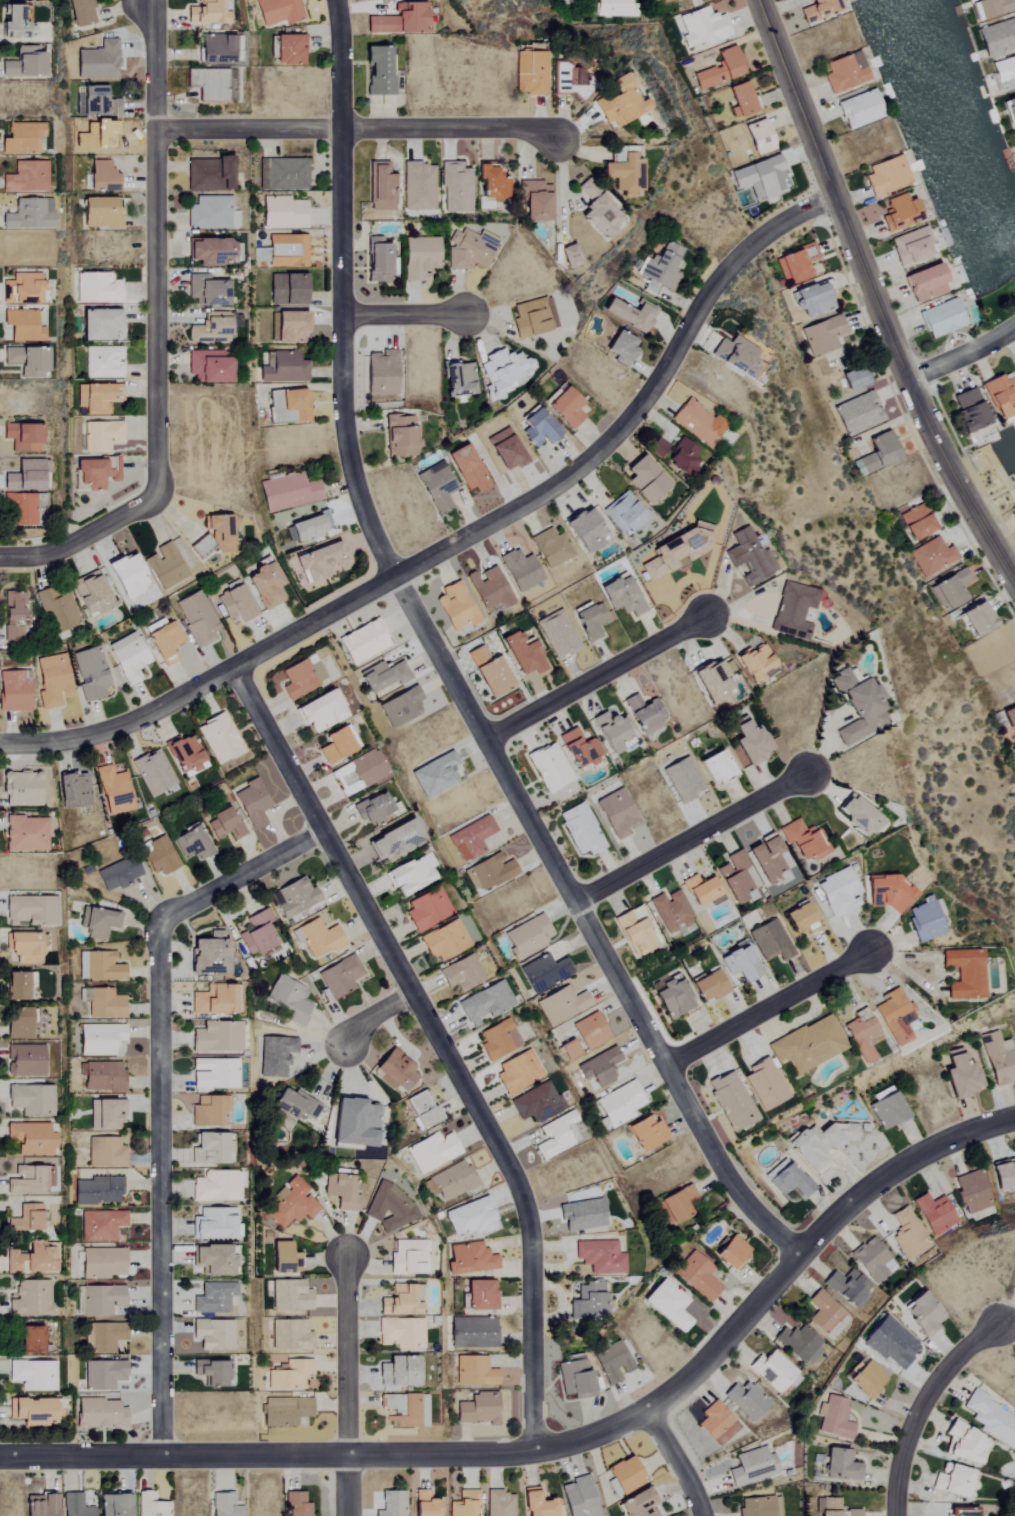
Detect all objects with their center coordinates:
building: (651, 0)
building: (570, 1)
building: (665, 1)
building: (989, 8)
building: (615, 9)
building: (818, 10)
building: (81, 12)
building: (277, 12)
building: (205, 13)
building: (397, 20)
building: (12, 22)
building: (702, 27)
building: (997, 37)
building: (214, 49)
building: (286, 50)
building: (97, 61)
building: (23, 63)
road: (344, 64)
building: (719, 69)
building: (379, 70)
building: (530, 72)
building: (844, 72)
building: (1004, 73)
building: (569, 81)
building: (207, 84)
building: (740, 100)
building: (618, 102)
building: (97, 103)
building: (1010, 109)
building: (859, 110)
road: (362, 128)
building: (1014, 134)
building: (757, 137)
building: (21, 138)
building: (207, 174)
building: (262, 174)
building: (287, 174)
building: (624, 175)
building: (886, 176)
building: (24, 177)
building: (101, 177)
building: (760, 179)
building: (492, 183)
building: (417, 186)
building: (380, 187)
building: (456, 188)
building: (535, 201)
building: (597, 211)
building: (99, 213)
building: (210, 213)
building: (282, 213)
building: (898, 213)
building: (28, 215)
building: (910, 246)
building: (287, 251)
building: (467, 251)
building: (210, 252)
building: (569, 256)
building: (418, 258)
building: (377, 261)
building: (796, 263)
building: (660, 269)
building: (925, 283)
building: (97, 288)
building: (20, 289)
building: (286, 290)
building: (205, 291)
road: (875, 298)
building: (813, 301)
road: (407, 314)
building: (629, 315)
building: (532, 318)
building: (941, 318)
building: (98, 324)
building: (22, 325)
building: (270, 327)
building: (288, 327)
building: (208, 329)
road: (157, 333)
building: (823, 335)
building: (620, 349)
road: (962, 355)
building: (738, 357)
building: (24, 362)
building: (103, 362)
building: (207, 367)
building: (283, 367)
building: (499, 372)
building: (381, 373)
building: (458, 380)
building: (853, 380)
building: (1000, 396)
building: (94, 398)
building: (294, 404)
building: (565, 408)
building: (969, 411)
building: (857, 414)
building: (698, 423)
building: (537, 428)
building: (100, 436)
building: (399, 436)
building: (21, 438)
building: (657, 448)
building: (876, 454)
building: (683, 458)
building: (466, 469)
building: (97, 473)
building: (24, 476)
building: (644, 480)
building: (436, 487)
building: (289, 492)
building: (18, 509)
building: (624, 513)
building: (1013, 518)
building: (916, 522)
building: (310, 527)
building: (584, 531)
building: (219, 533)
road: (464, 538)
building: (551, 548)
building: (673, 553)
building: (749, 557)
building: (931, 557)
building: (321, 562)
building: (165, 566)
building: (520, 570)
building: (124, 576)
building: (263, 585)
building: (489, 589)
building: (951, 590)
building: (90, 595)
building: (235, 604)
building: (455, 608)
building: (56, 609)
building: (793, 611)
building: (11, 618)
building: (197, 618)
building: (977, 619)
building: (590, 621)
building: (558, 635)
building: (163, 641)
building: (363, 642)
building: (519, 654)
building: (128, 658)
building: (754, 663)
building: (488, 672)
building: (90, 674)
building: (384, 677)
road: (599, 677)
building: (51, 680)
building: (712, 683)
building: (14, 691)
building: (858, 707)
building: (400, 708)
building: (317, 712)
building: (644, 714)
building: (1009, 718)
road: (479, 720)
building: (609, 730)
building: (217, 738)
building: (333, 744)
building: (751, 744)
building: (578, 748)
building: (1013, 749)
building: (184, 753)
building: (715, 766)
building: (365, 767)
building: (548, 767)
building: (152, 772)
building: (434, 774)
building: (682, 779)
building: (26, 787)
building: (74, 790)
building: (113, 790)
building: (252, 803)
building: (369, 809)
building: (616, 814)
building: (857, 814)
building: (223, 824)
building: (580, 829)
building: (24, 833)
road: (695, 837)
building: (471, 838)
building: (800, 838)
building: (391, 839)
building: (192, 843)
building: (158, 855)
building: (769, 860)
building: (489, 872)
building: (118, 873)
building: (406, 874)
building: (736, 876)
building: (700, 889)
building: (887, 892)
building: (838, 893)
building: (294, 896)
building: (30, 910)
building: (426, 910)
building: (670, 911)
building: (800, 919)
building: (925, 919)
building: (98, 922)
building: (634, 931)
building: (256, 933)
building: (319, 937)
building: (526, 937)
building: (770, 940)
building: (442, 941)
building: (23, 947)
building: (207, 954)
building: (739, 963)
building: (98, 966)
building: (543, 972)
building: (459, 973)
building: (964, 973)
building: (339, 976)
building: (17, 984)
building: (709, 986)
building: (671, 997)
building: (213, 999)
building: (289, 999)
building: (102, 1003)
building: (483, 1003)
building: (560, 1005)
road: (775, 1007)
road: (374, 1015)
building: (895, 1017)
building: (16, 1023)
building: (589, 1031)
building: (216, 1037)
building: (862, 1037)
building: (99, 1039)
building: (496, 1039)
building: (807, 1045)
road: (442, 1046)
building: (569, 1049)
building: (999, 1058)
building: (23, 1060)
building: (598, 1067)
building: (396, 1070)
building: (516, 1071)
building: (212, 1073)
building: (960, 1074)
building: (102, 1076)
building: (763, 1084)
road: (162, 1091)
building: (29, 1099)
building: (729, 1101)
building: (535, 1103)
building: (619, 1104)
building: (293, 1106)
building: (421, 1109)
building: (887, 1109)
building: (205, 1111)
building: (102, 1115)
building: (354, 1122)
building: (645, 1133)
building: (556, 1135)
building: (29, 1138)
building: (820, 1145)
building: (211, 1148)
building: (432, 1151)
building: (106, 1152)
building: (1004, 1175)
building: (786, 1178)
building: (26, 1180)
building: (452, 1181)
building: (216, 1185)
building: (98, 1191)
building: (341, 1192)
building: (972, 1192)
building: (678, 1203)
building: (290, 1204)
building: (390, 1208)
building: (935, 1214)
building: (581, 1216)
building: (469, 1217)
building: (24, 1218)
building: (212, 1223)
building: (100, 1225)
building: (908, 1234)
building: (730, 1251)
building: (407, 1257)
building: (599, 1257)
building: (282, 1258)
building: (28, 1259)
building: (213, 1259)
building: (469, 1259)
building: (872, 1260)
building: (101, 1263)
building: (697, 1275)
building: (846, 1286)
building: (289, 1295)
building: (478, 1295)
building: (212, 1298)
building: (28, 1299)
building: (99, 1299)
building: (398, 1301)
building: (587, 1301)
building: (666, 1305)
building: (825, 1313)
building: (921, 1314)
building: (399, 1332)
building: (471, 1332)
building: (211, 1334)
building: (289, 1335)
building: (103, 1337)
building: (27, 1340)
building: (799, 1343)
building: (890, 1343)
building: (613, 1362)
building: (473, 1371)
building: (774, 1371)
building: (397, 1372)
building: (210, 1373)
building: (30, 1374)
building: (103, 1375)
building: (288, 1375)
building: (866, 1379)
road: (352, 1386)
building: (746, 1401)
road: (925, 1407)
building: (478, 1409)
building: (404, 1410)
building: (29, 1411)
building: (285, 1411)
building: (100, 1413)
building: (834, 1419)
building: (991, 1419)
building: (717, 1423)
road: (563, 1440)
building: (962, 1443)
road: (679, 1462)
building: (837, 1465)
building: (752, 1466)
building: (624, 1475)
building: (951, 1480)
building: (578, 1497)
building: (499, 1503)
building: (295, 1504)
building: (390, 1504)
building: (424, 1504)
building: (464, 1504)
building: (537, 1504)
building: (636, 1504)
building: (39, 1505)
building: (114, 1505)
building: (152, 1505)
building: (223, 1505)
building: (75, 1506)
building: (758, 1506)
building: (829, 1507)
building: (852, 1512)

